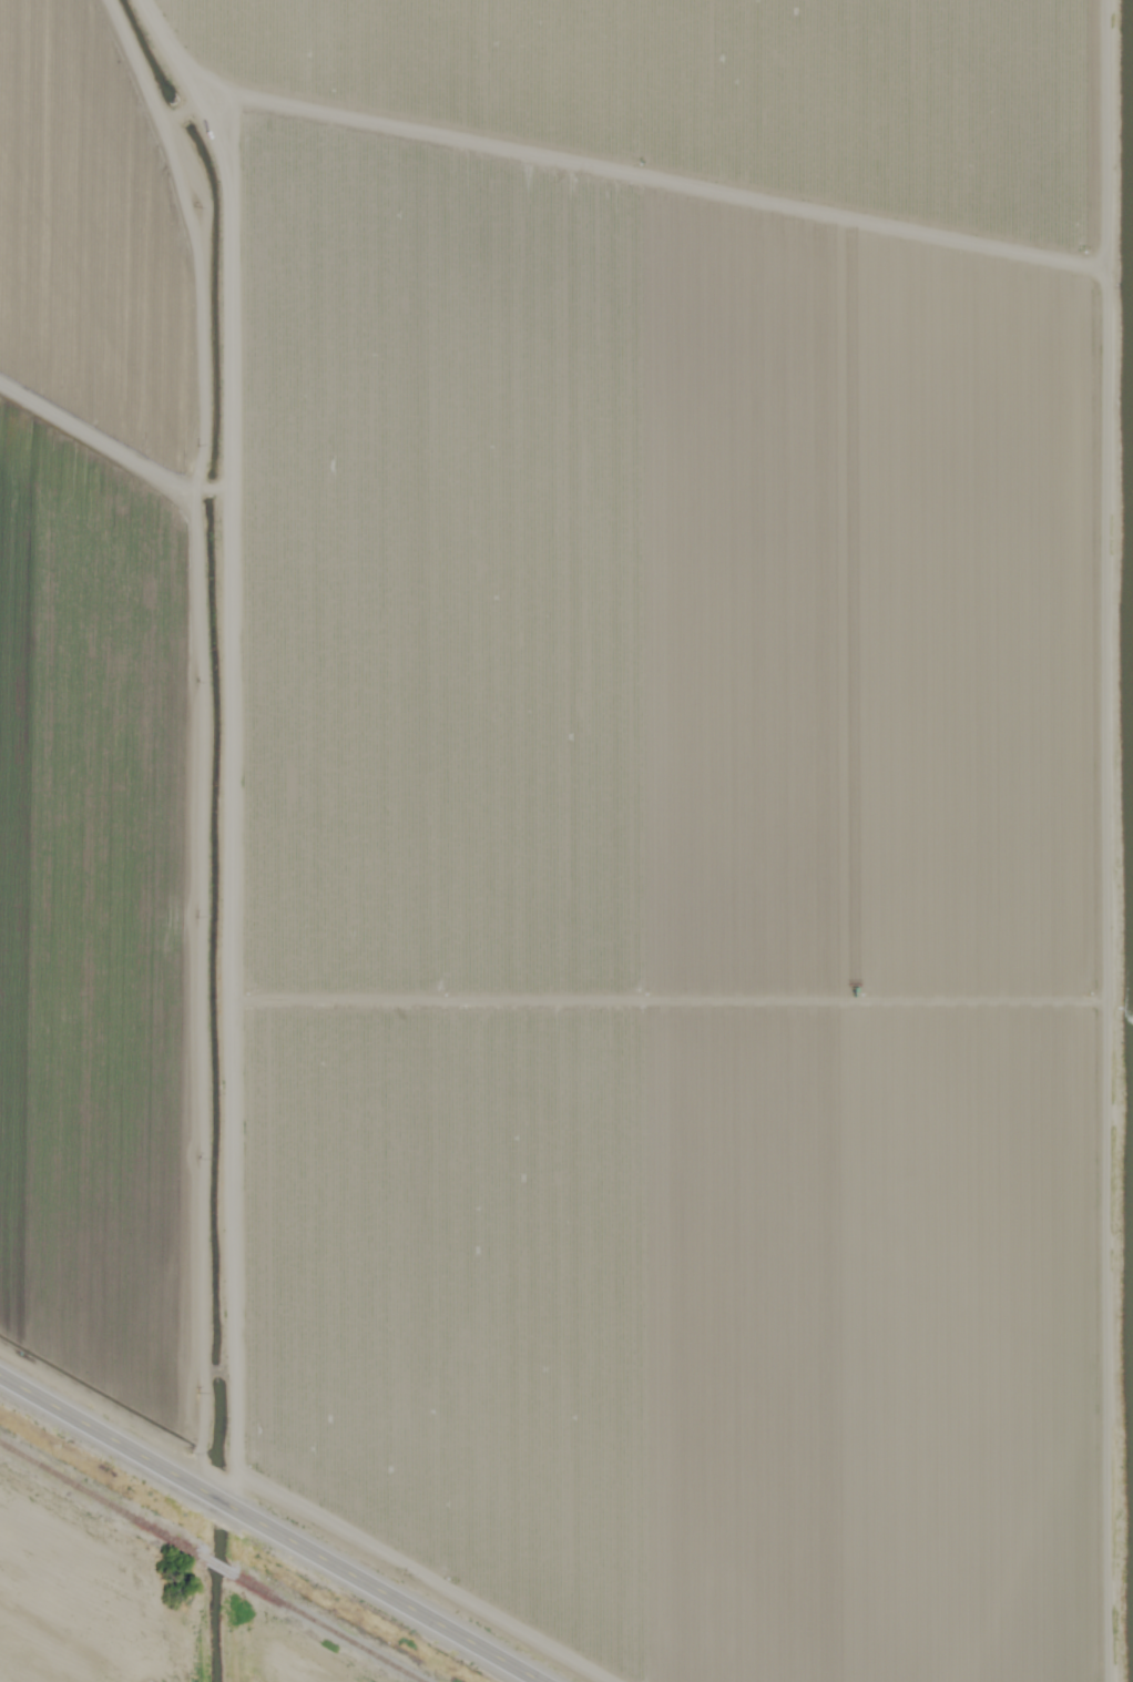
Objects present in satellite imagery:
crop: (724, 101)
road: (627, 142)
road: (243, 784)
road: (1088, 840)
crop: (542, 874)
railway: (102, 1500)
road: (273, 1526)
railway: (217, 1567)
railway: (325, 1628)

